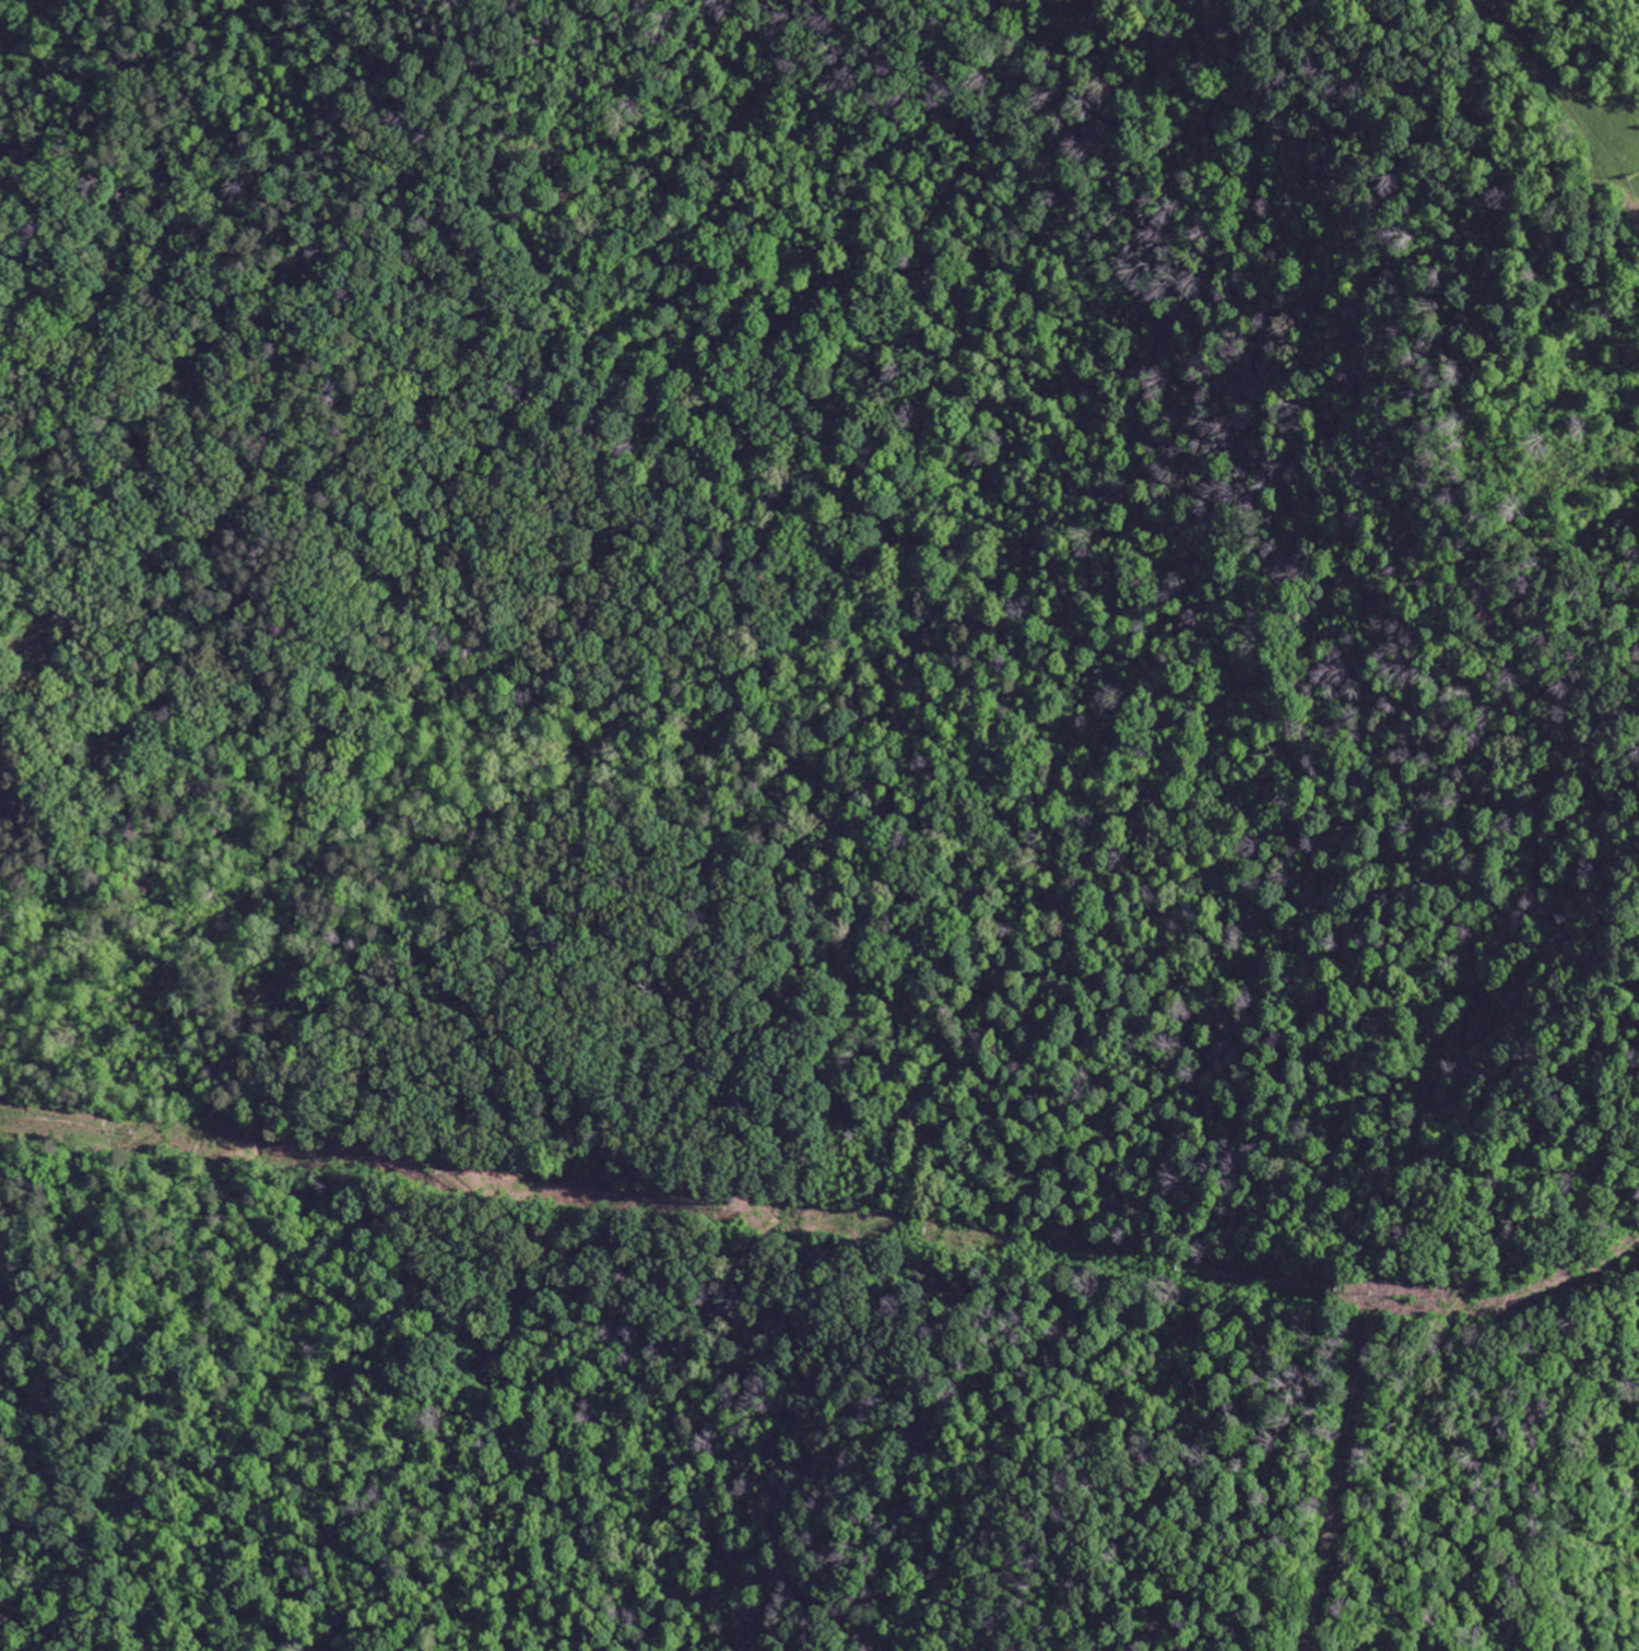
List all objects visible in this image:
park: (45, 673)
road: (1438, 1410)

